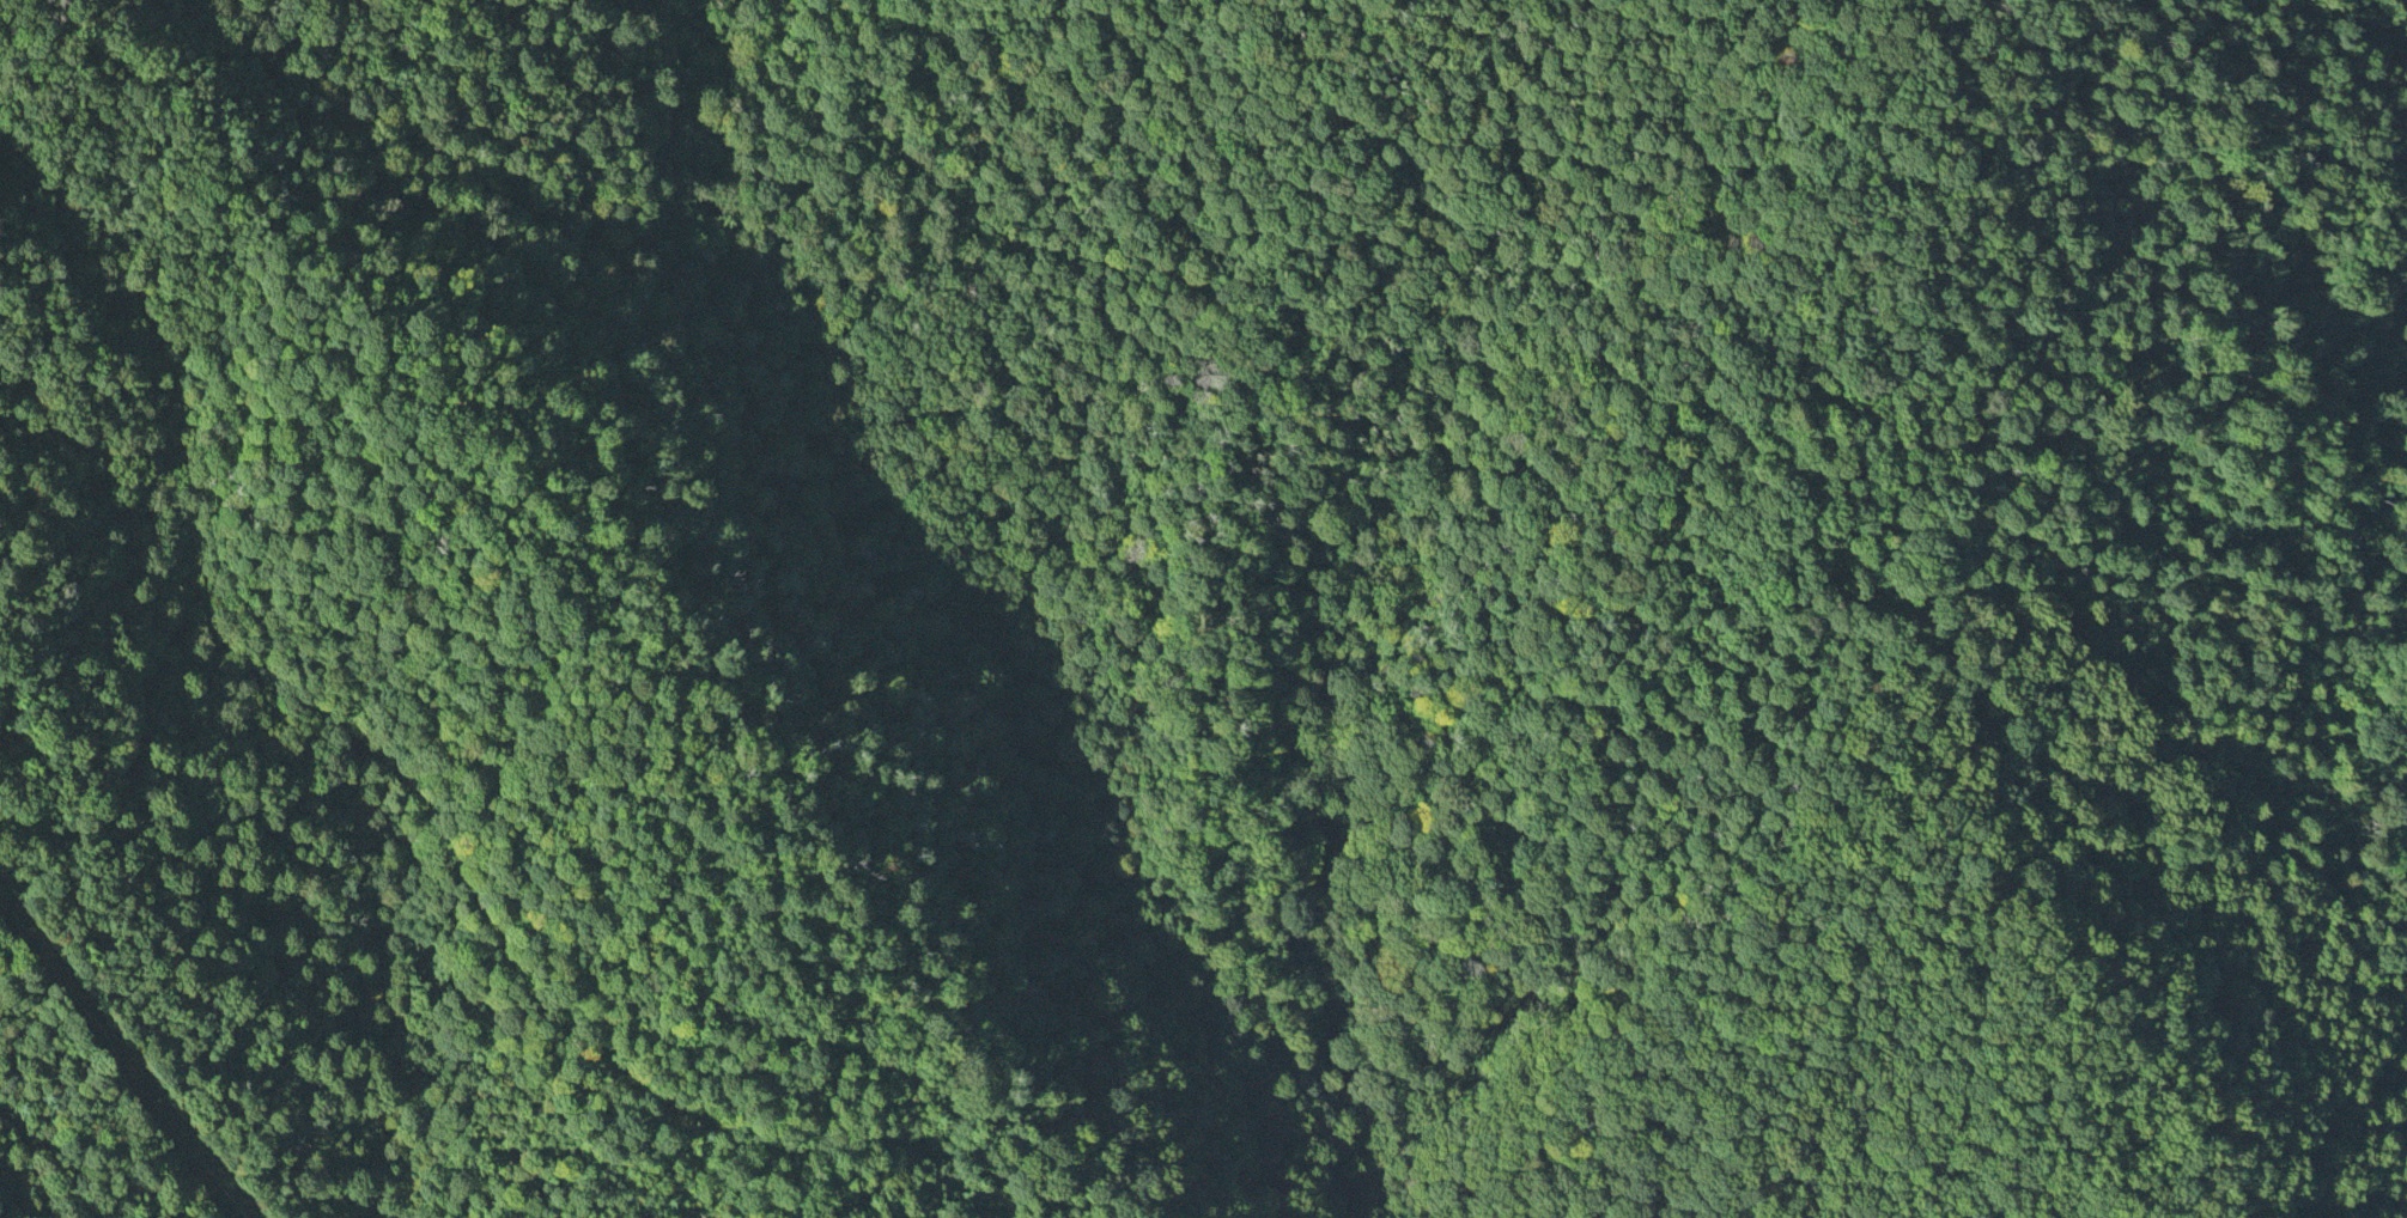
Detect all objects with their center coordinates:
road: (452, 858)

